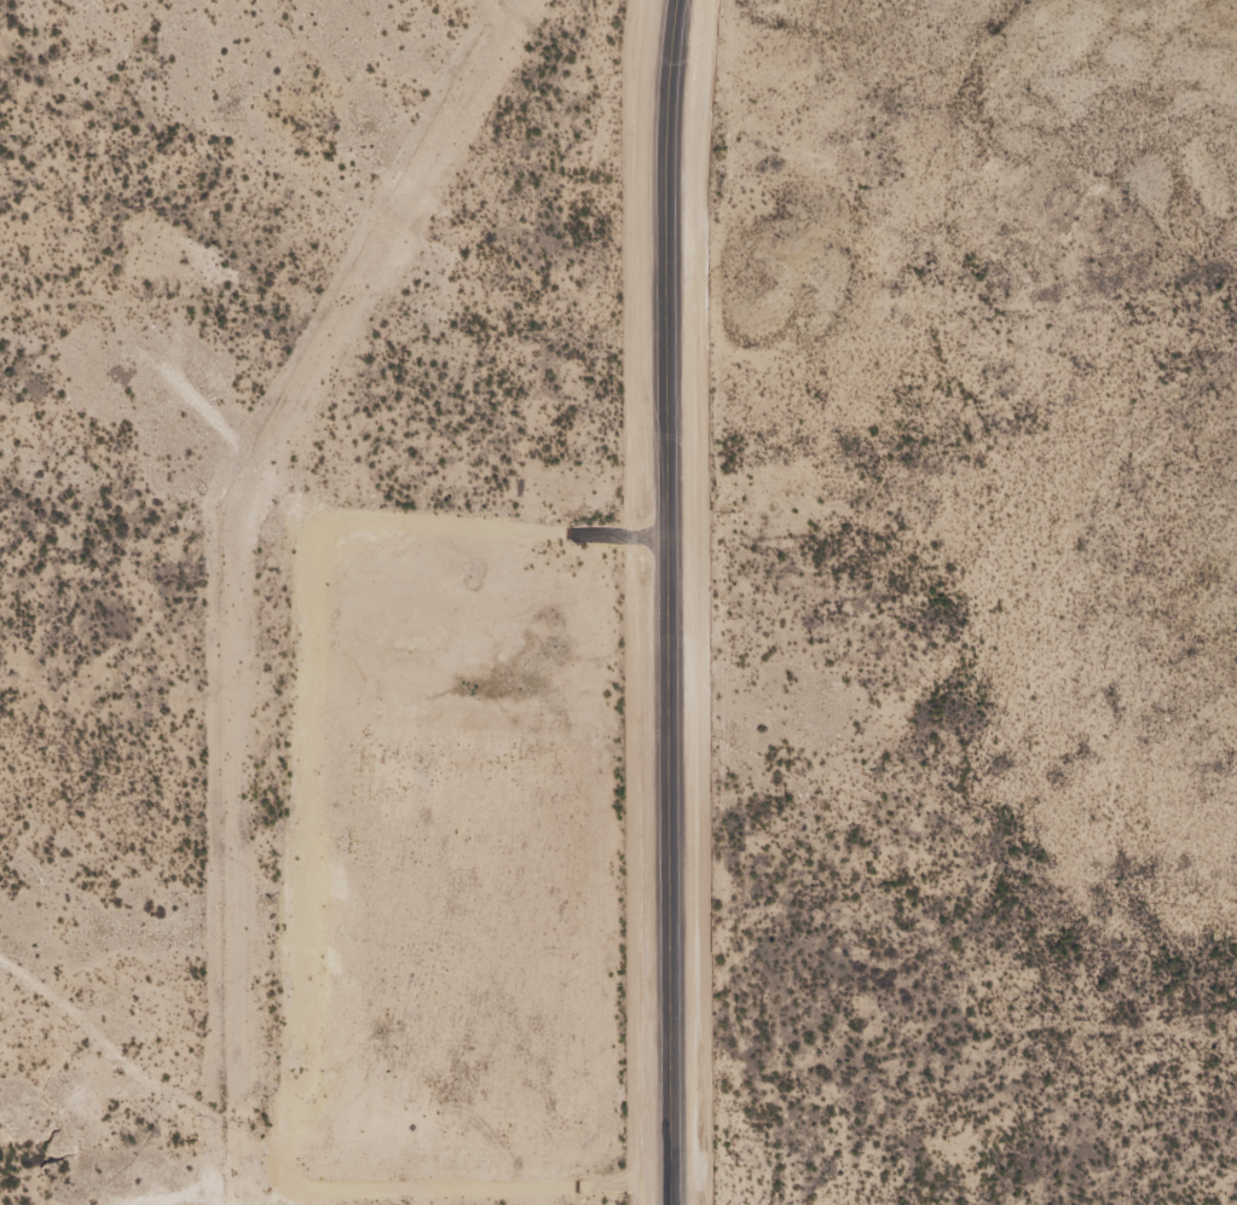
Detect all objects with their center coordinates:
road: (674, 602)

